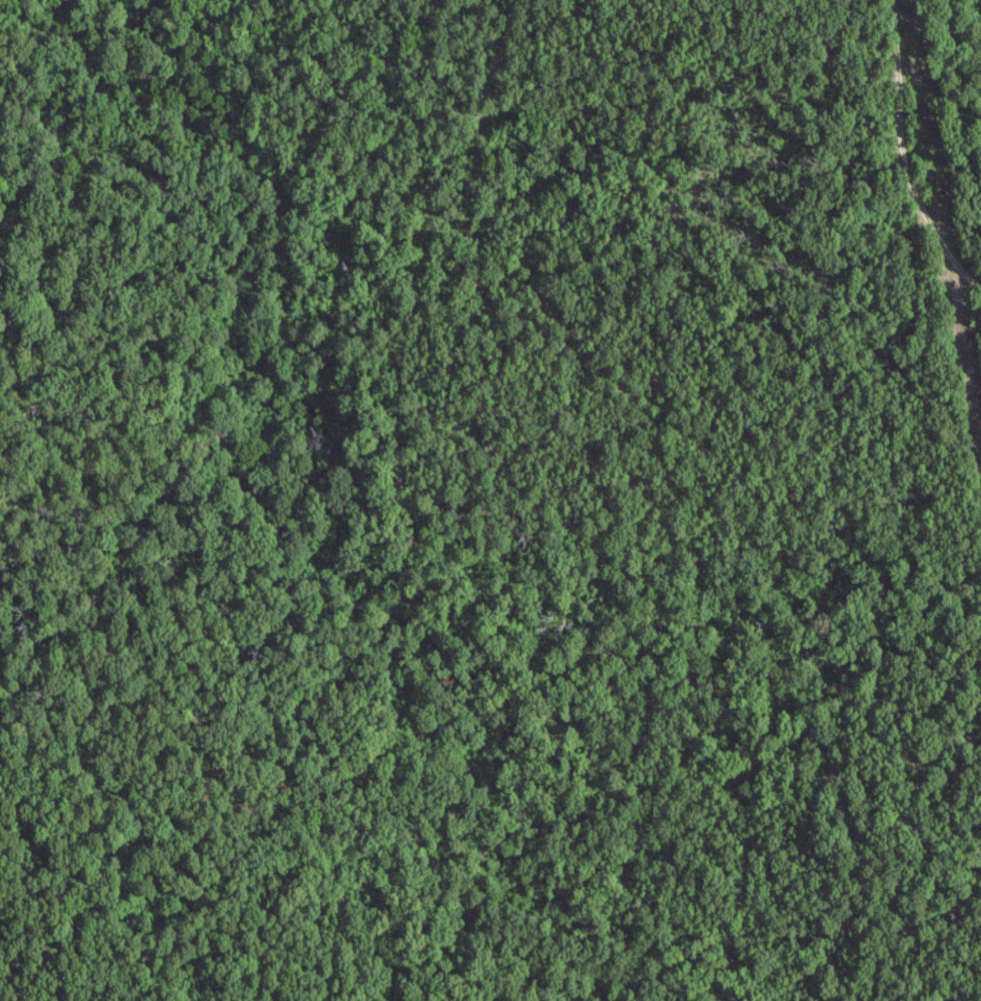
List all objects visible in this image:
road: (910, 155)

